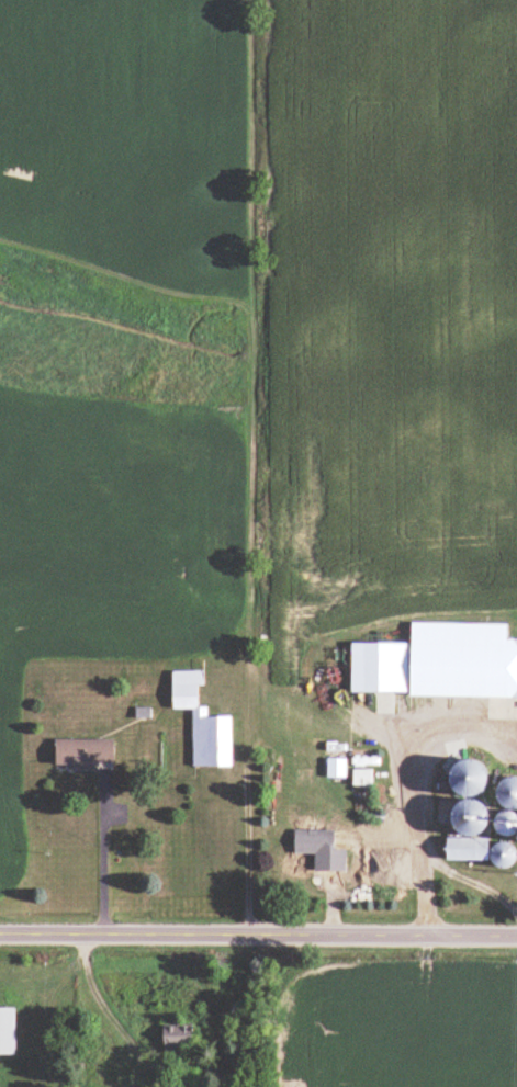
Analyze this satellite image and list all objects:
building: (440, 661)
building: (206, 722)
building: (89, 752)
road: (403, 781)
building: (428, 799)
building: (323, 848)
building: (476, 848)
road: (104, 852)
road: (473, 879)
road: (258, 935)
building: (9, 1030)
building: (183, 1035)

